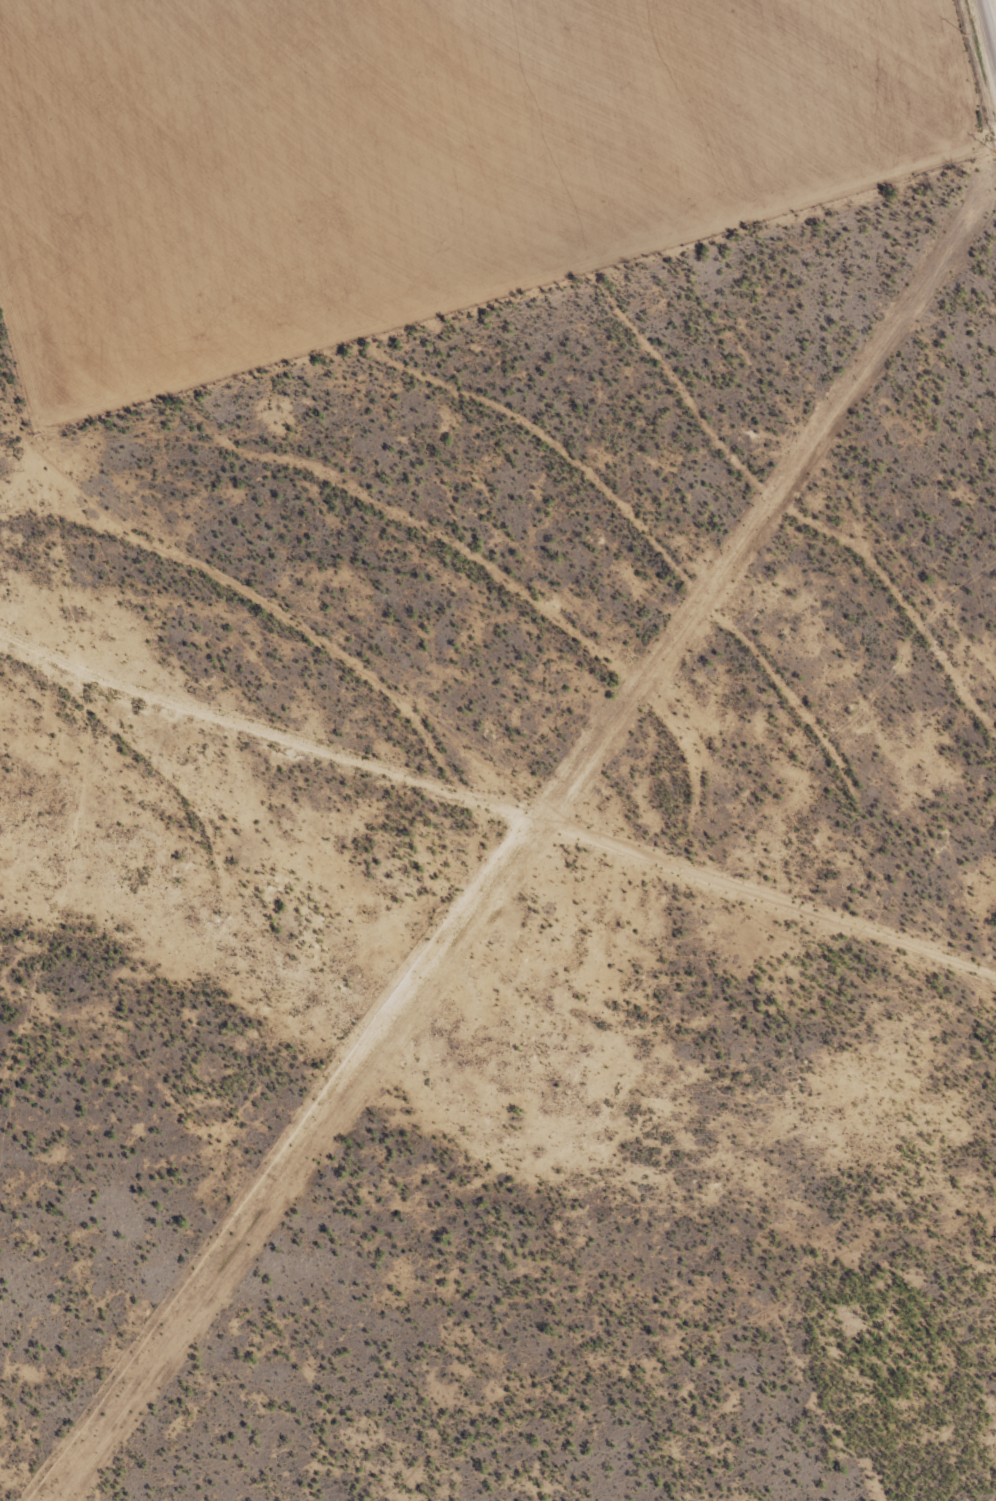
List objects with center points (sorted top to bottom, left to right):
road: (987, 35)

